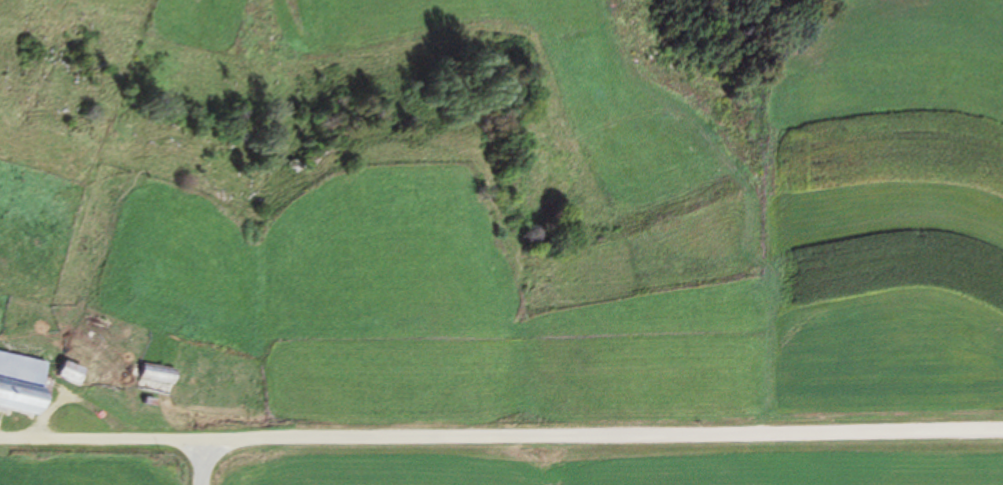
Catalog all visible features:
building: (158, 374)
building: (22, 383)
road: (104, 475)
road: (659, 475)

